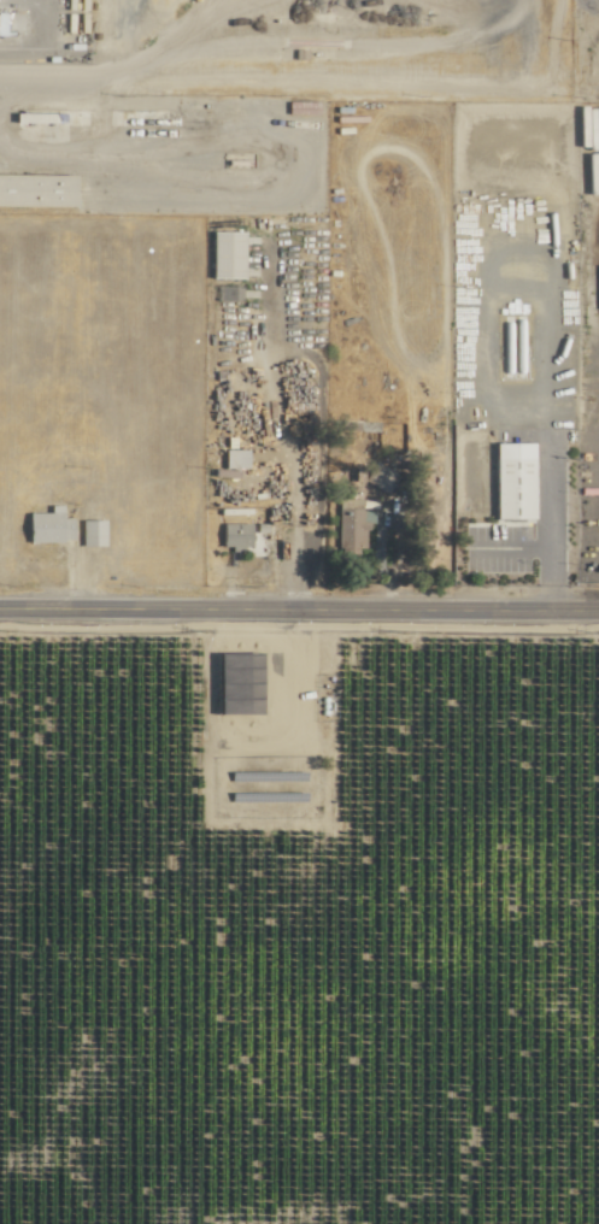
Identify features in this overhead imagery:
road: (40, 42)
road: (55, 82)
building: (33, 190)
building: (221, 254)
building: (231, 457)
building: (507, 479)
road: (550, 504)
building: (347, 524)
building: (46, 525)
building: (89, 531)
building: (233, 535)
road: (299, 612)

